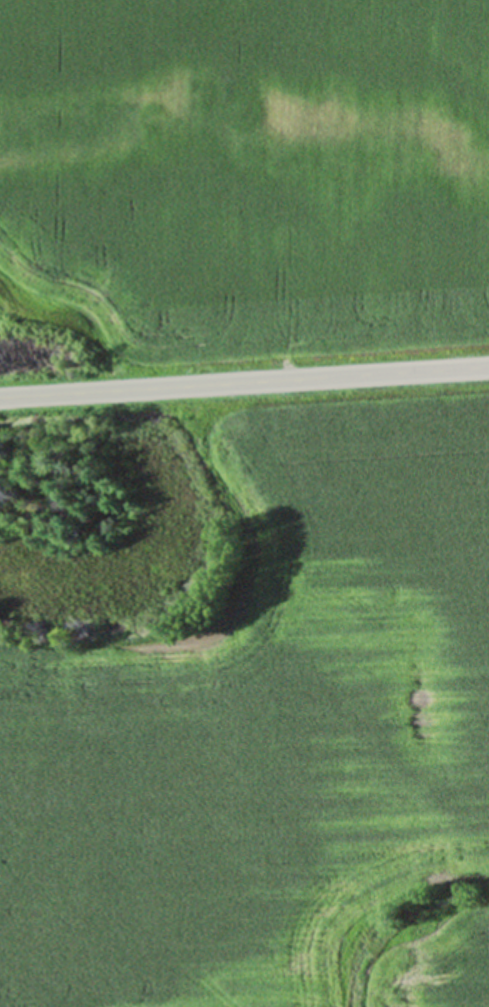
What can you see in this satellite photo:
road: (244, 382)

